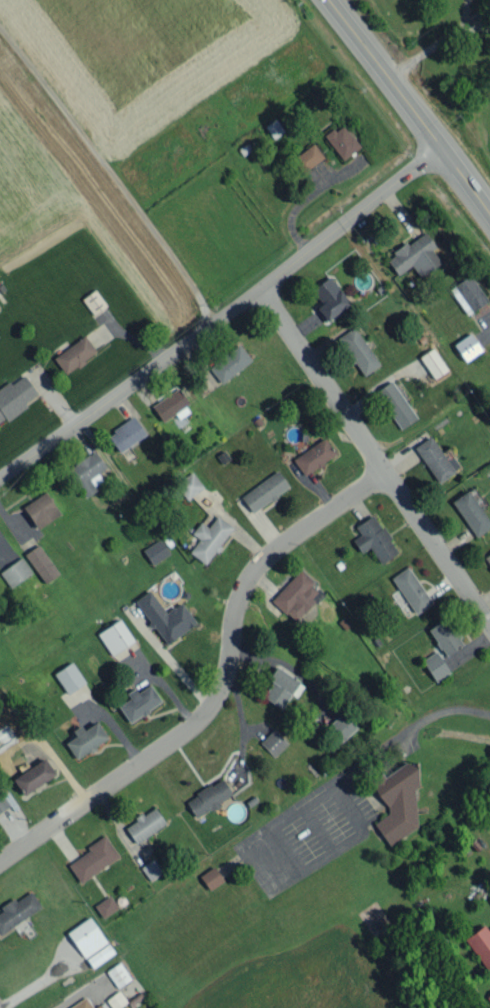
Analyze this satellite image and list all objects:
road: (467, 13)
road: (479, 27)
road: (426, 49)
road: (410, 106)
building: (273, 128)
building: (341, 141)
building: (307, 157)
road: (110, 173)
building: (414, 255)
building: (467, 294)
building: (328, 298)
road: (222, 316)
building: (467, 346)
building: (358, 350)
building: (74, 354)
building: (433, 362)
building: (229, 363)
building: (14, 396)
building: (395, 404)
building: (170, 405)
building: (125, 434)
building: (313, 456)
road: (371, 456)
building: (433, 459)
building: (86, 472)
building: (189, 485)
building: (264, 491)
building: (41, 509)
building: (471, 513)
building: (209, 538)
building: (374, 538)
building: (155, 551)
building: (488, 558)
building: (41, 563)
building: (15, 571)
building: (411, 589)
building: (296, 595)
building: (165, 617)
building: (115, 636)
building: (445, 636)
building: (435, 666)
building: (69, 677)
road: (218, 685)
building: (281, 686)
building: (139, 702)
building: (340, 727)
road: (406, 730)
building: (85, 739)
building: (273, 742)
building: (33, 776)
building: (208, 797)
building: (396, 801)
building: (3, 802)
building: (144, 824)
building: (93, 858)
building: (150, 869)
building: (211, 877)
road: (273, 883)
building: (105, 906)
building: (17, 910)
building: (86, 937)
building: (480, 945)
building: (99, 955)
building: (118, 974)
road: (75, 996)
building: (488, 996)
building: (115, 1000)

